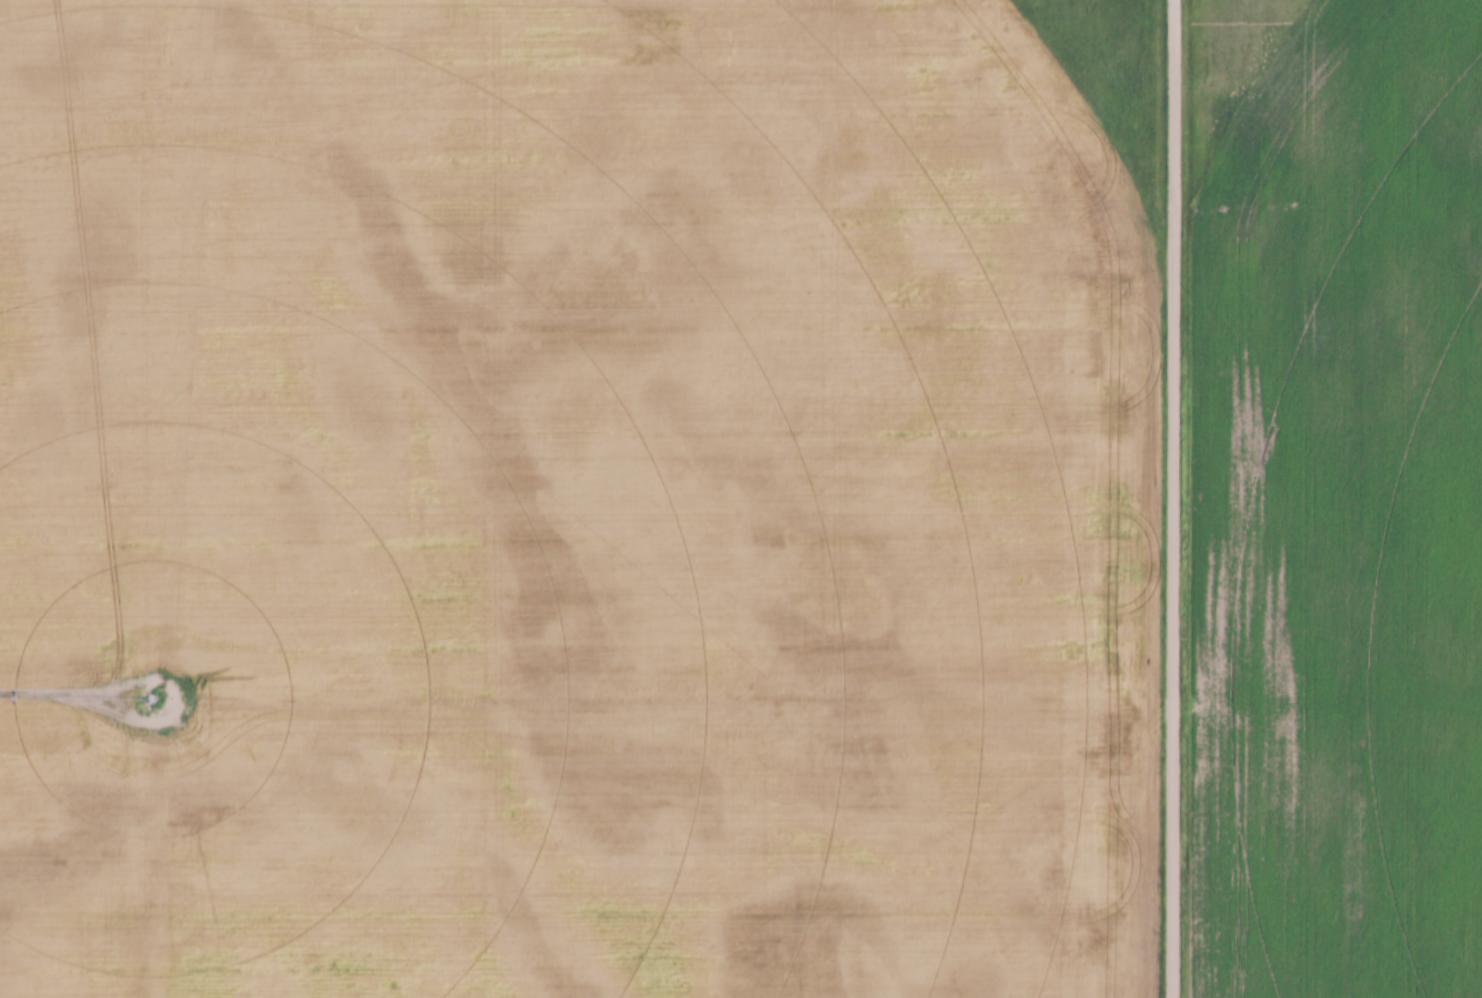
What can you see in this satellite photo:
road: (1175, 499)

